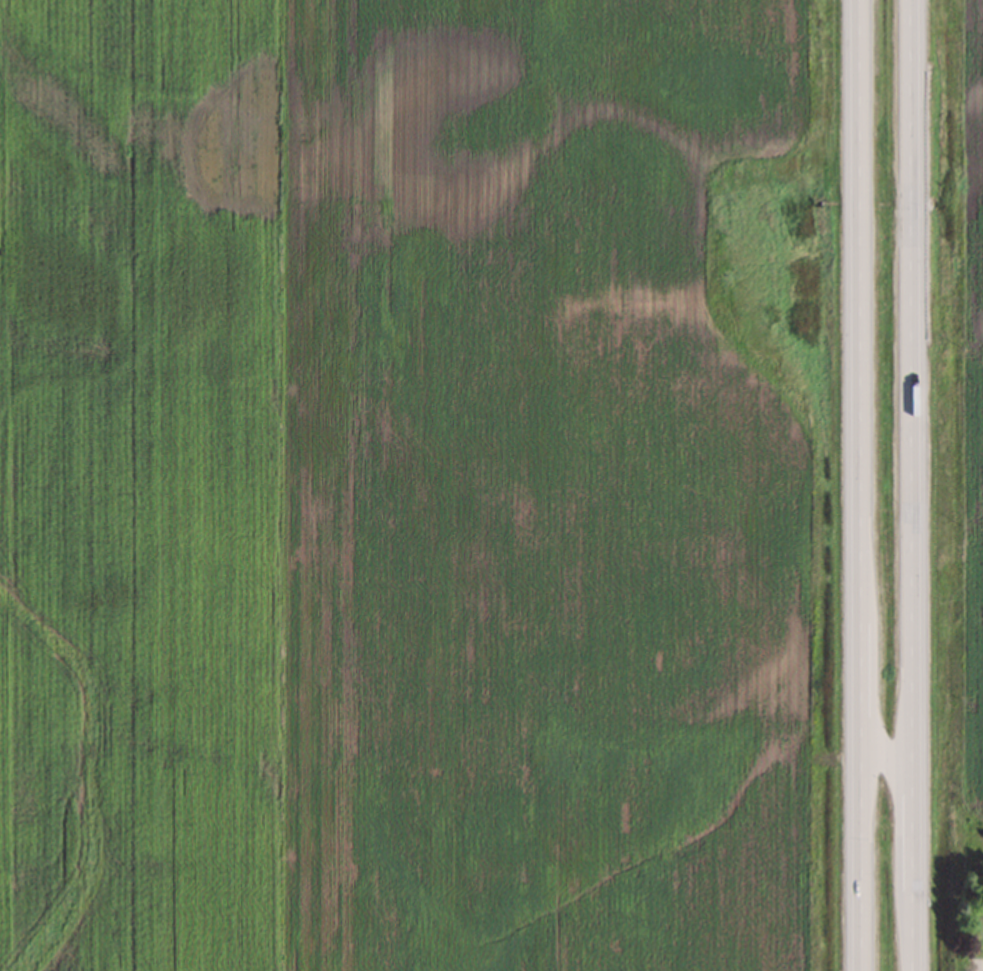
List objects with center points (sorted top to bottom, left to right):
building: (850, 250)
road: (855, 485)
road: (912, 485)

